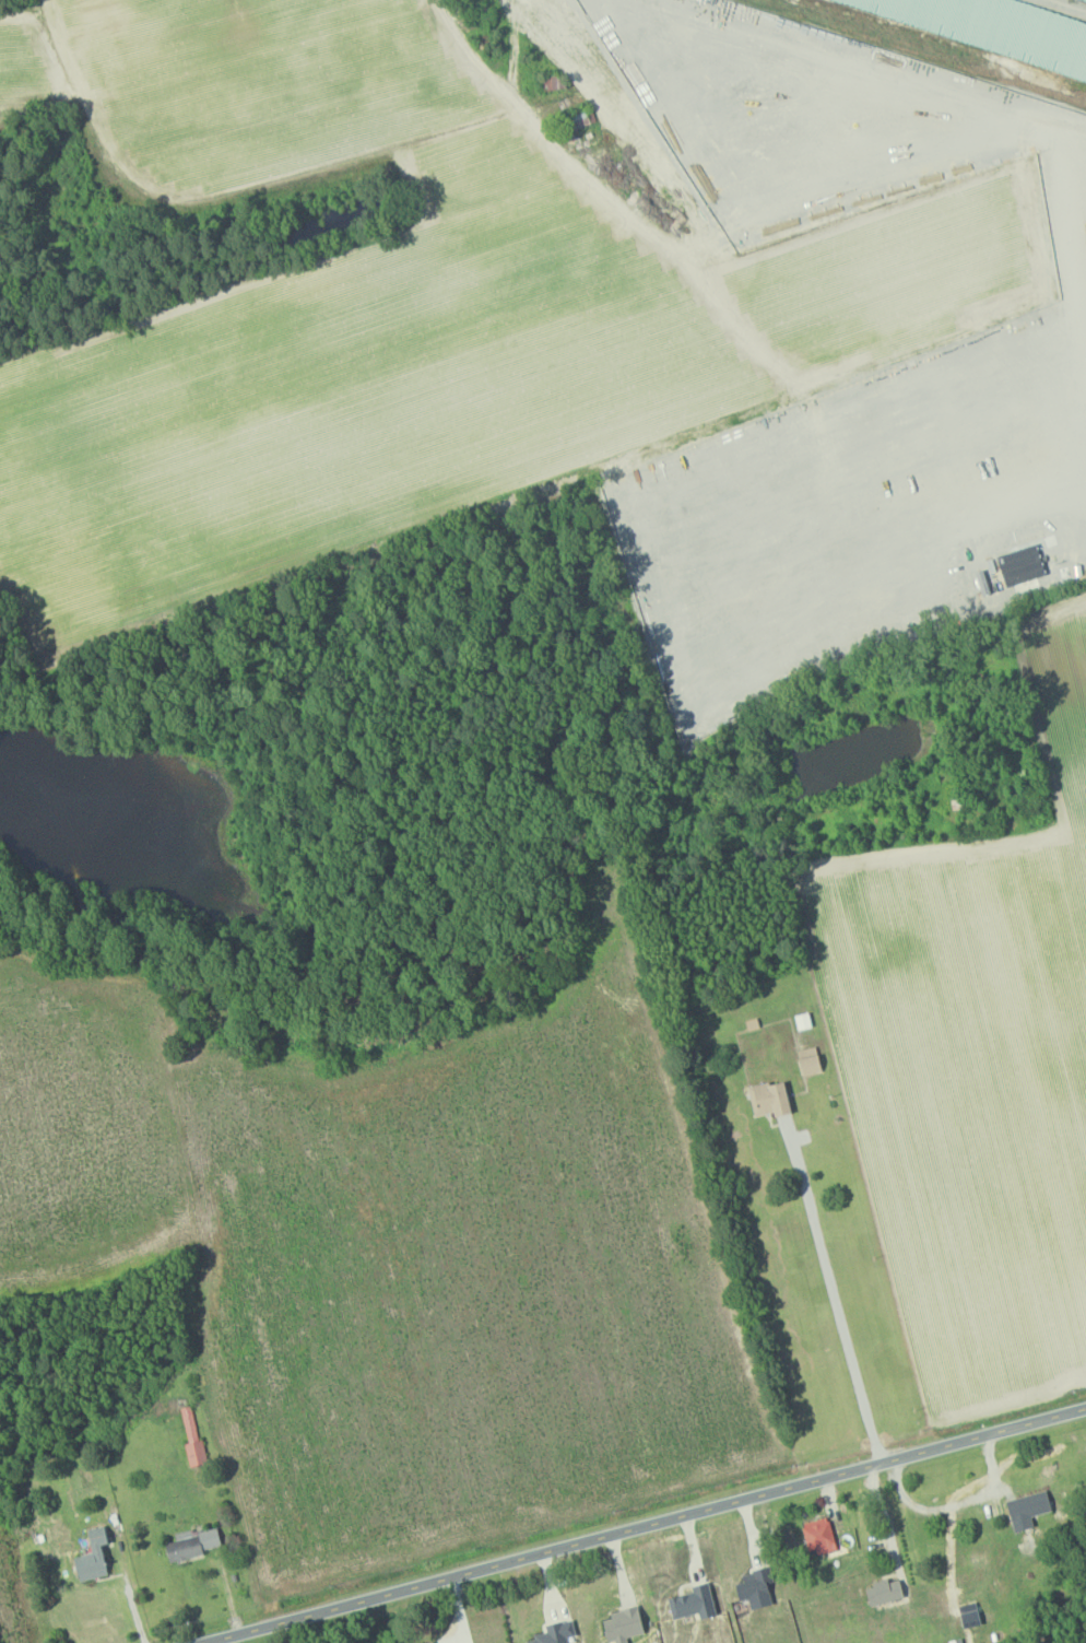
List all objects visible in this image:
road: (1081, 418)
building: (801, 1021)
building: (807, 1060)
building: (768, 1098)
road: (456, 1148)
road: (293, 1243)
road: (836, 1304)
building: (191, 1436)
building: (1026, 1509)
road: (933, 1513)
road: (651, 1525)
building: (817, 1535)
building: (191, 1544)
building: (91, 1556)
building: (752, 1588)
building: (882, 1592)
road: (131, 1597)
building: (692, 1603)
building: (967, 1615)
building: (554, 1632)

